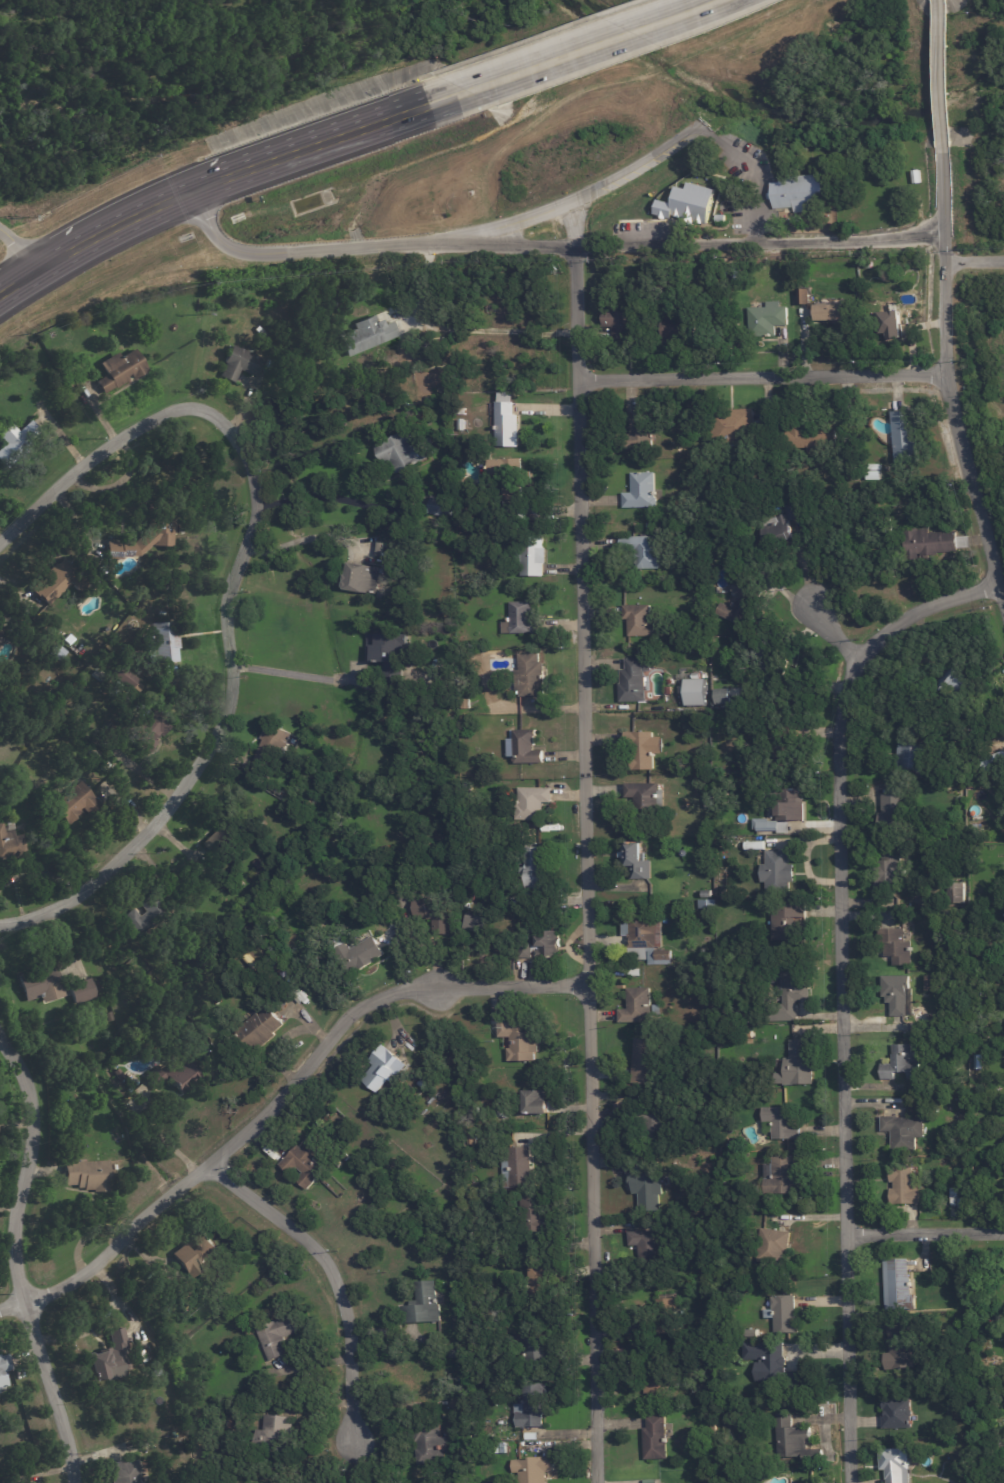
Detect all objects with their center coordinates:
road: (574, 52)
road: (936, 74)
road: (207, 182)
building: (799, 192)
building: (720, 220)
road: (570, 221)
road: (703, 237)
road: (444, 238)
road: (17, 249)
road: (974, 257)
building: (868, 266)
building: (803, 298)
building: (828, 314)
building: (767, 320)
building: (620, 321)
building: (890, 325)
road: (456, 328)
building: (682, 329)
building: (50, 336)
building: (362, 338)
building: (237, 365)
building: (118, 372)
road: (761, 372)
road: (947, 379)
building: (70, 384)
building: (506, 423)
building: (735, 428)
building: (637, 433)
building: (812, 438)
building: (904, 438)
building: (14, 443)
building: (403, 452)
building: (873, 473)
building: (509, 476)
building: (641, 492)
road: (329, 494)
building: (437, 507)
building: (651, 527)
building: (779, 528)
road: (300, 537)
building: (142, 540)
building: (931, 544)
building: (380, 549)
building: (647, 552)
building: (533, 556)
building: (752, 559)
building: (505, 576)
building: (361, 580)
building: (56, 582)
road: (230, 582)
building: (739, 603)
building: (522, 620)
building: (641, 621)
road: (827, 623)
building: (163, 643)
building: (387, 653)
building: (58, 654)
building: (773, 661)
road: (297, 673)
building: (530, 676)
building: (126, 679)
building: (634, 682)
building: (671, 682)
building: (947, 687)
building: (669, 691)
building: (695, 692)
building: (723, 697)
building: (466, 705)
building: (996, 726)
building: (144, 730)
building: (960, 733)
building: (274, 743)
building: (786, 743)
building: (528, 749)
building: (641, 752)
building: (909, 757)
building: (971, 788)
building: (647, 798)
building: (532, 803)
building: (76, 805)
building: (892, 811)
building: (782, 814)
building: (223, 827)
building: (10, 843)
road: (586, 861)
building: (639, 863)
building: (256, 864)
building: (778, 869)
building: (533, 870)
building: (889, 873)
building: (958, 892)
building: (707, 896)
building: (708, 904)
building: (890, 904)
building: (431, 914)
building: (792, 914)
building: (143, 918)
building: (472, 920)
building: (645, 941)
building: (548, 945)
building: (522, 948)
building: (897, 948)
building: (366, 952)
building: (634, 973)
building: (929, 985)
building: (44, 986)
road: (841, 987)
building: (83, 992)
building: (791, 994)
building: (898, 997)
building: (637, 1007)
building: (108, 1018)
building: (261, 1029)
building: (750, 1036)
building: (782, 1036)
building: (518, 1042)
building: (644, 1062)
building: (800, 1065)
building: (902, 1065)
building: (383, 1069)
building: (173, 1073)
building: (118, 1075)
road: (280, 1093)
building: (536, 1103)
building: (981, 1107)
building: (783, 1123)
building: (655, 1128)
building: (903, 1133)
building: (729, 1142)
building: (1002, 1144)
building: (723, 1157)
building: (347, 1158)
building: (304, 1165)
building: (518, 1167)
building: (85, 1175)
building: (781, 1177)
building: (903, 1186)
building: (648, 1192)
building: (757, 1206)
building: (535, 1215)
road: (924, 1233)
building: (643, 1243)
building: (771, 1245)
building: (195, 1255)
road: (16, 1257)
road: (331, 1269)
building: (537, 1284)
building: (898, 1286)
building: (424, 1306)
building: (783, 1316)
building: (664, 1317)
building: (969, 1331)
building: (276, 1337)
building: (899, 1347)
building: (734, 1348)
building: (455, 1354)
building: (537, 1354)
building: (107, 1358)
building: (769, 1365)
building: (3, 1369)
building: (154, 1371)
building: (659, 1379)
building: (530, 1410)
building: (896, 1414)
building: (271, 1433)
building: (531, 1437)
building: (656, 1439)
building: (791, 1440)
building: (430, 1444)
building: (497, 1449)
building: (894, 1466)
building: (535, 1470)
building: (122, 1473)
building: (649, 1480)
building: (967, 1482)

